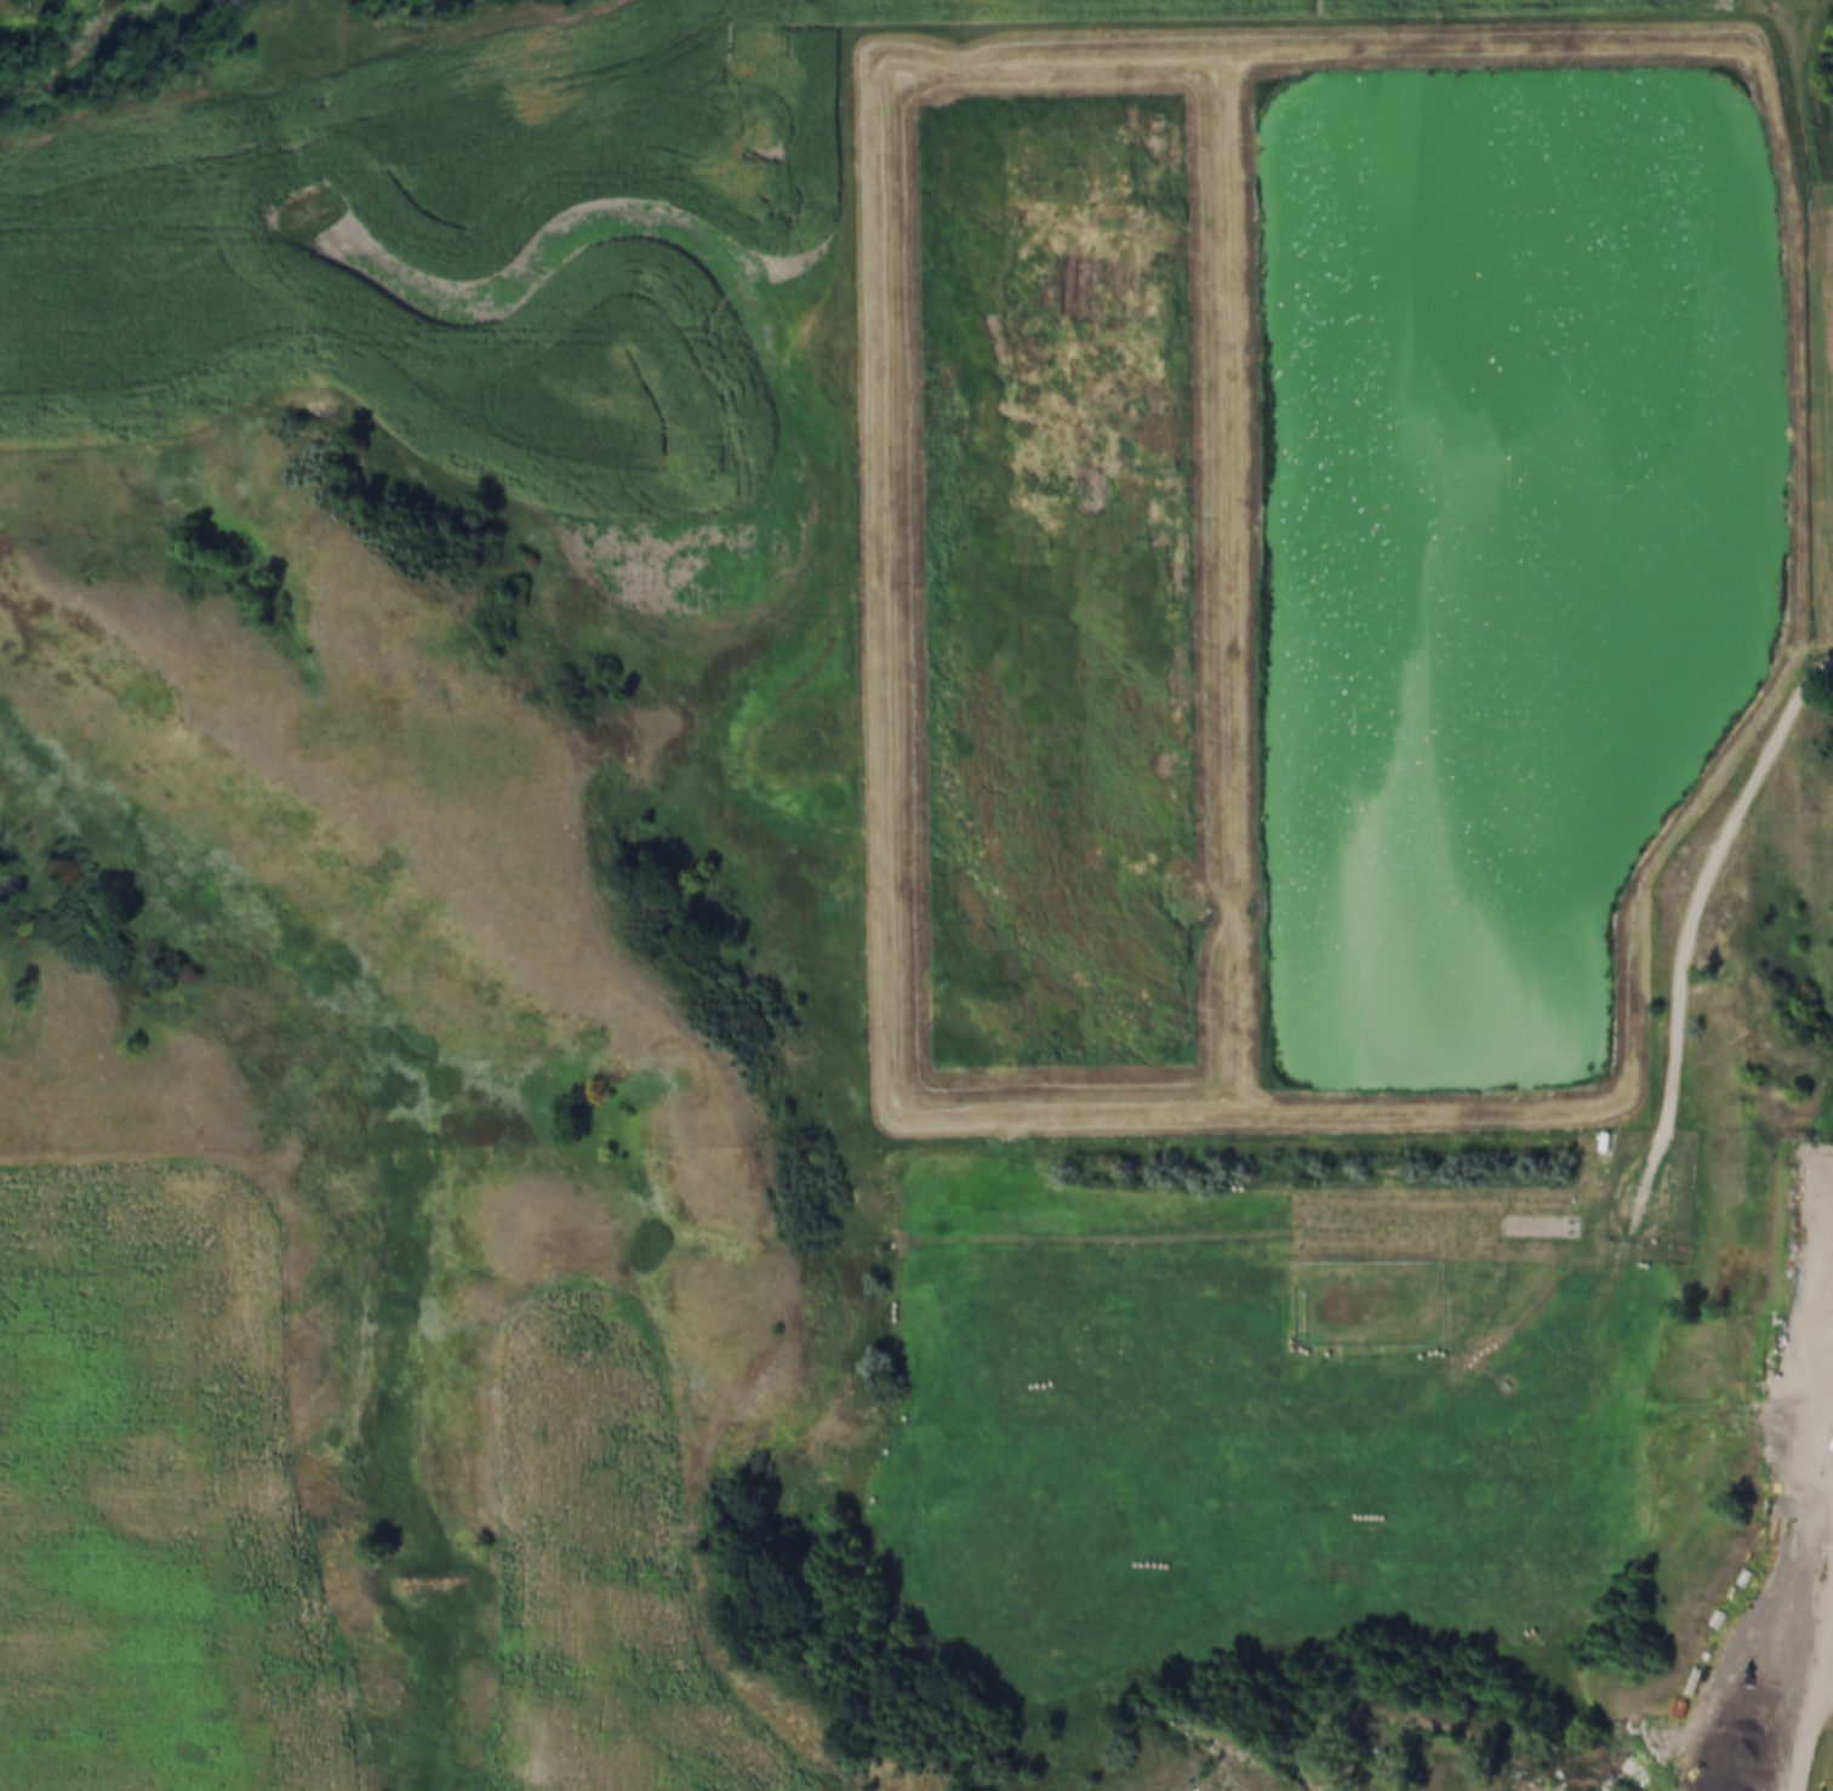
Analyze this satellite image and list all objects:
road: (1783, 7)
road: (1384, 17)
road: (386, 67)
road: (1691, 937)
park: (1526, 1336)
building: (1503, 1384)
building: (1828, 1445)
silo: (1828, 1445)
crop: (610, 1579)
road: (1821, 1733)

